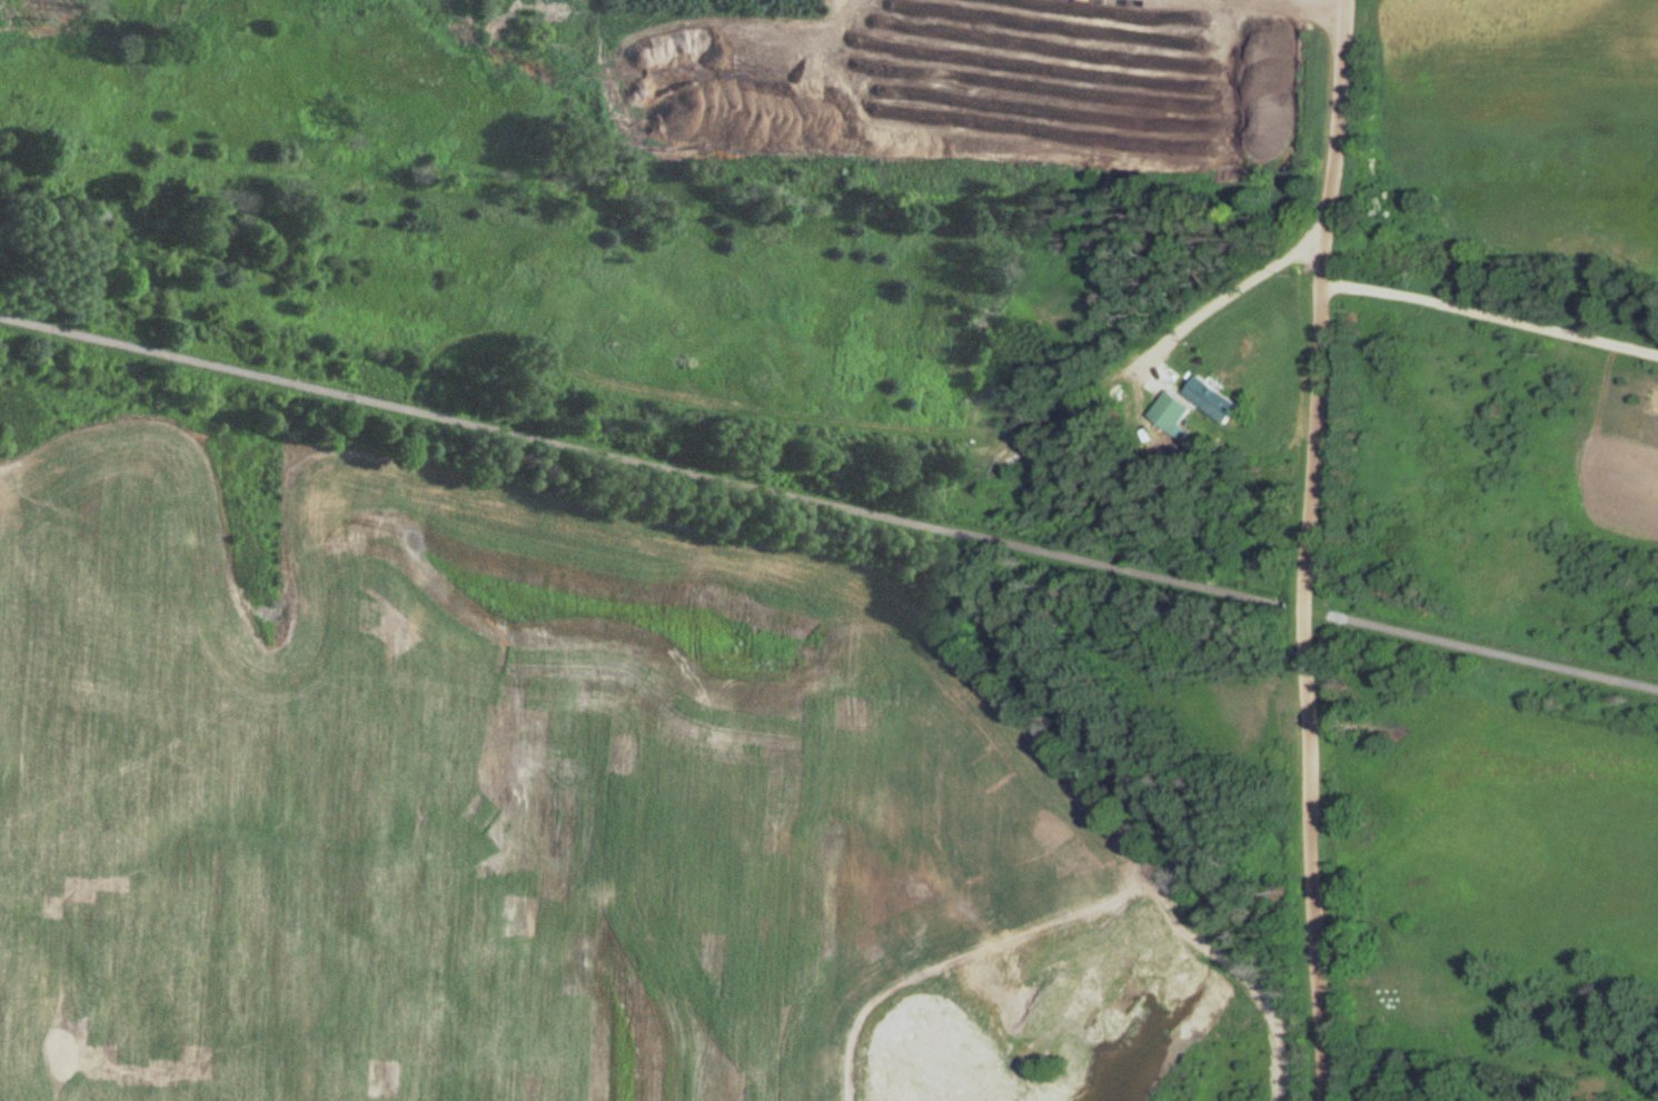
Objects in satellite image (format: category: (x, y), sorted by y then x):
road: (1249, 6)
road: (1336, 140)
road: (1224, 296)
road: (1491, 313)
building: (1210, 399)
road: (1069, 405)
building: (1170, 413)
road: (643, 460)
road: (1495, 652)
road: (1307, 691)

